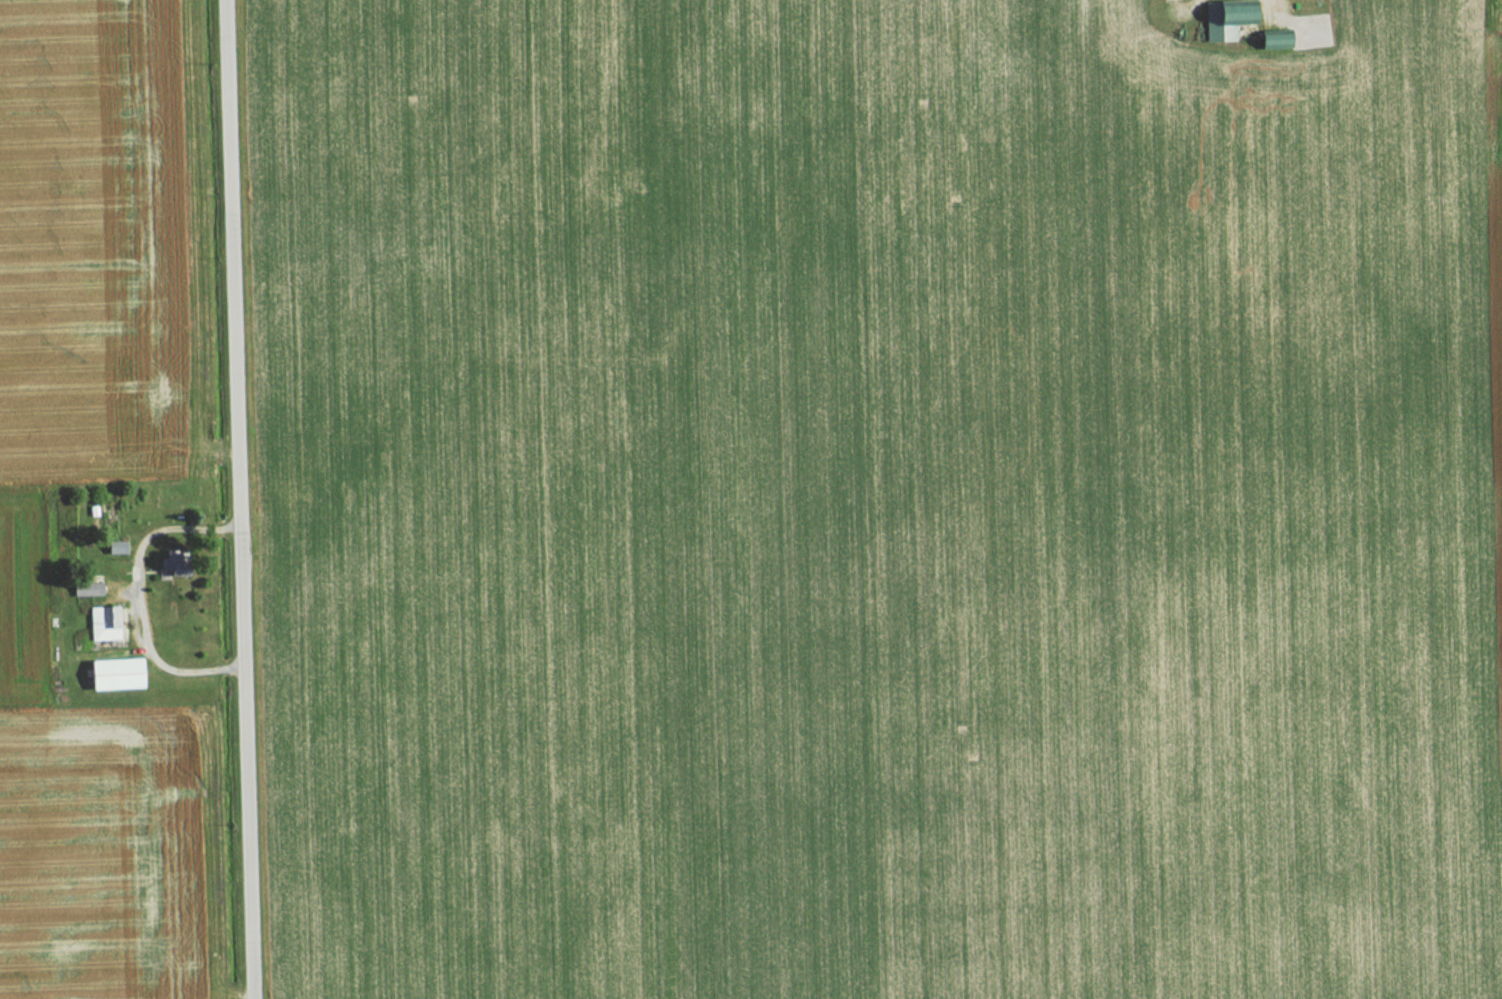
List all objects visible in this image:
building: (1221, 20)
crop: (91, 248)
road: (237, 499)
crop: (876, 500)
building: (106, 624)
building: (121, 675)
crop: (100, 856)

